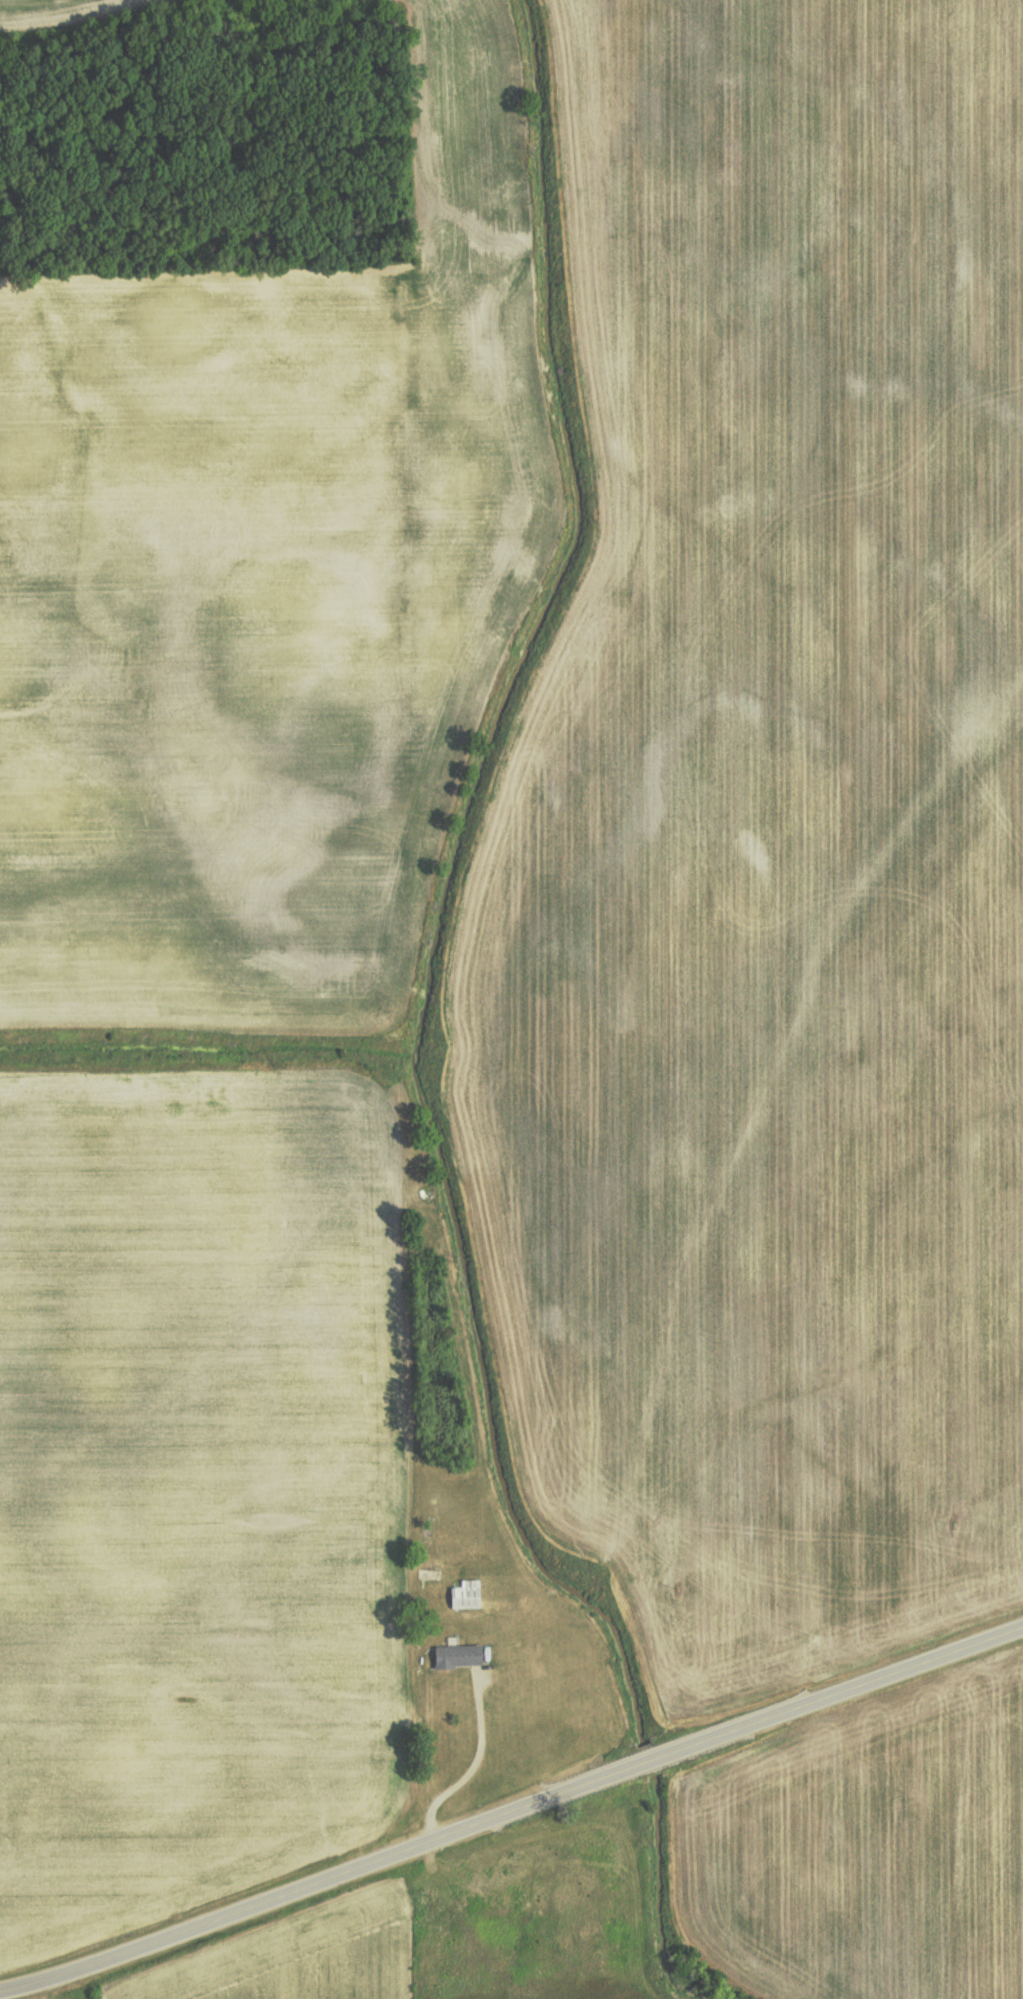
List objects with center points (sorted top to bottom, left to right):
building: (457, 1654)
road: (511, 1814)
crop: (865, 1853)
crop: (339, 1968)

